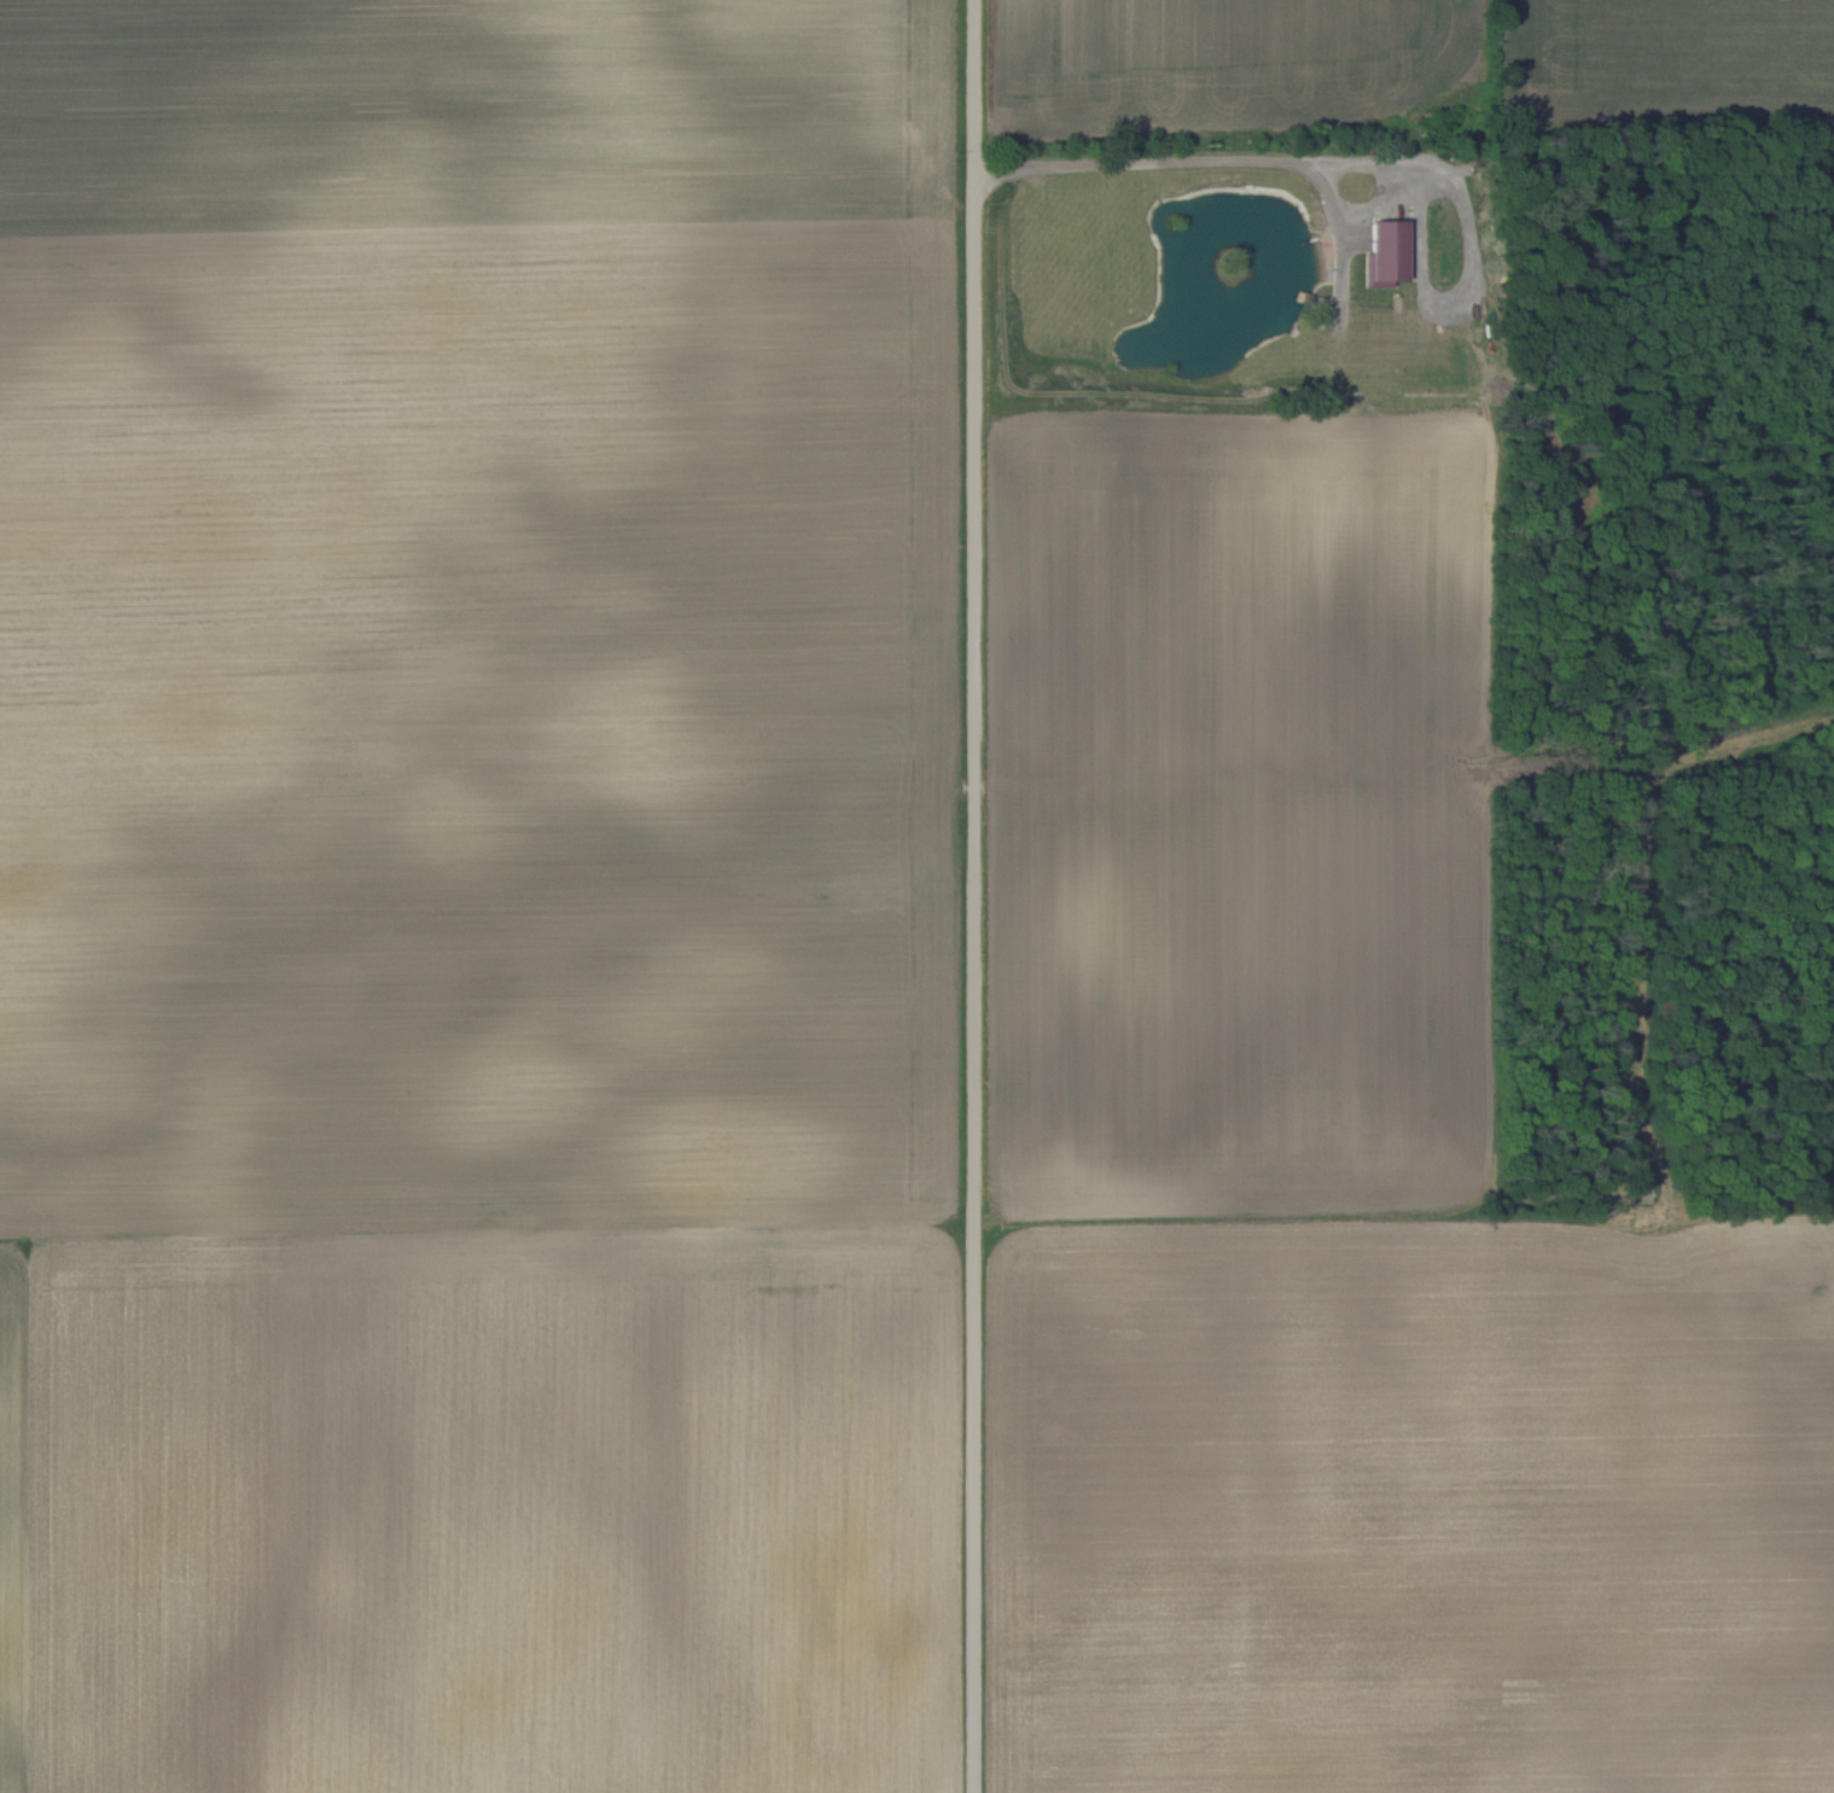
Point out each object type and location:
road: (1183, 161)
building: (1387, 251)
road: (977, 896)

